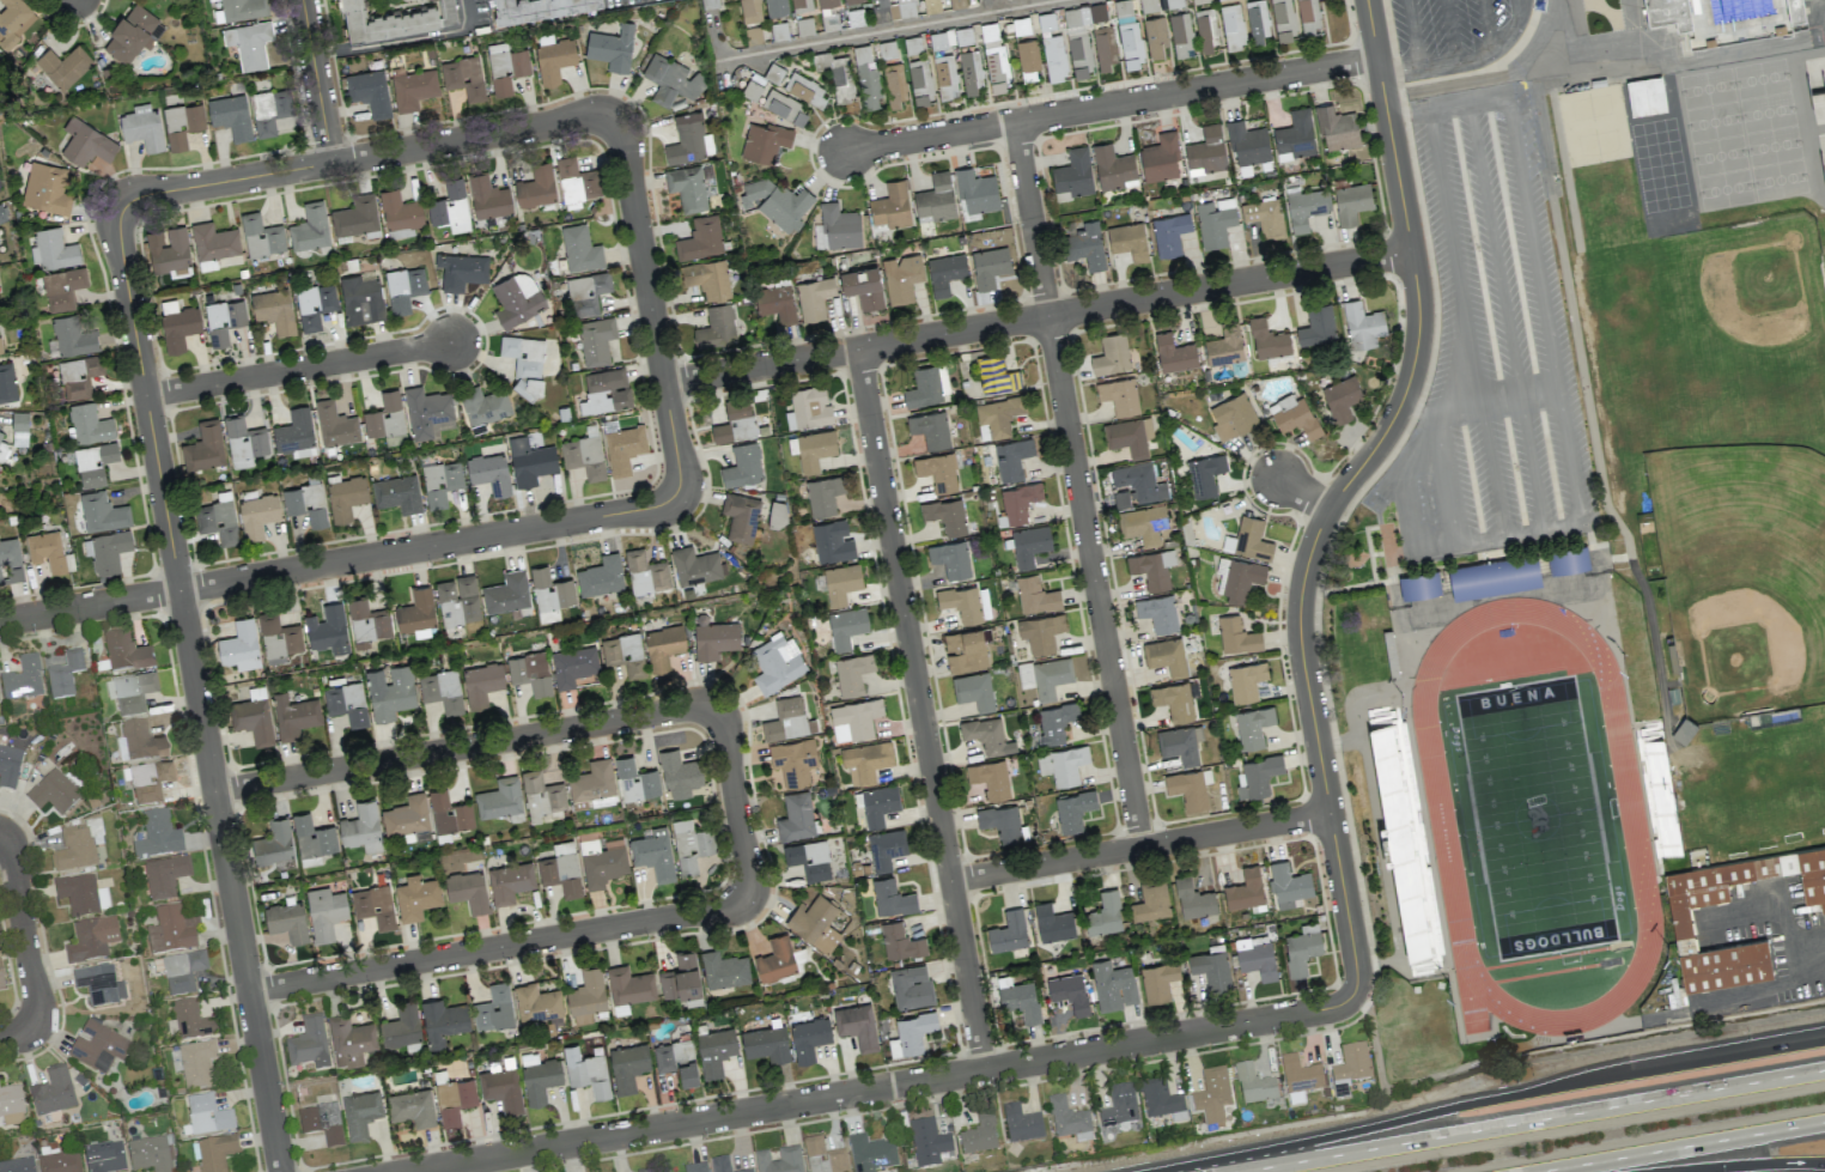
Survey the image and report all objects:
building: (850, 0)
building: (957, 2)
building: (801, 5)
road: (999, 5)
building: (931, 6)
road: (986, 6)
building: (536, 7)
building: (775, 7)
building: (243, 8)
building: (902, 8)
building: (750, 10)
building: (1794, 10)
building: (445, 12)
building: (1667, 12)
building: (1084, 13)
building: (1308, 17)
building: (14, 20)
building: (384, 20)
building: (1046, 20)
building: (1283, 20)
building: (1257, 22)
road: (1486, 24)
building: (1233, 25)
road: (889, 29)
building: (1205, 30)
road: (1450, 31)
building: (132, 34)
building: (1127, 34)
road: (1413, 34)
parking lot: (1453, 34)
building: (753, 35)
building: (1181, 35)
building: (1155, 36)
road: (403, 37)
building: (950, 37)
building: (249, 43)
building: (612, 47)
building: (1105, 47)
road: (716, 48)
building: (1054, 56)
building: (1079, 56)
building: (993, 57)
building: (1028, 59)
building: (553, 60)
road: (1466, 60)
building: (63, 66)
building: (505, 67)
building: (971, 69)
building: (835, 73)
building: (945, 75)
building: (463, 77)
building: (868, 78)
building: (670, 80)
road: (316, 81)
building: (920, 81)
building: (894, 84)
building: (412, 87)
building: (804, 89)
building: (369, 91)
building: (1644, 95)
road: (1466, 102)
road: (1111, 104)
building: (783, 107)
building: (269, 110)
road: (1407, 111)
building: (231, 115)
building: (182, 123)
building: (141, 126)
building: (1295, 135)
building: (688, 139)
building: (765, 141)
building: (85, 142)
building: (1247, 142)
building: (1206, 151)
road: (365, 157)
building: (1160, 158)
building: (1113, 166)
building: (1072, 175)
building: (576, 180)
building: (535, 186)
building: (687, 187)
building: (45, 188)
building: (977, 192)
building: (487, 196)
building: (936, 198)
building: (775, 201)
building: (1351, 202)
building: (892, 205)
building: (450, 206)
building: (1304, 206)
building: (399, 209)
building: (1, 214)
building: (355, 215)
building: (1265, 217)
building: (1215, 221)
building: (309, 227)
building: (837, 227)
building: (400, 232)
building: (1169, 233)
building: (261, 235)
building: (700, 238)
building: (1129, 241)
building: (213, 244)
building: (1085, 245)
building: (580, 248)
building: (53, 249)
building: (171, 250)
building: (988, 266)
building: (460, 272)
building: (944, 273)
building: (707, 278)
building: (901, 278)
building: (863, 286)
building: (62, 287)
building: (403, 287)
building: (586, 292)
building: (814, 297)
building: (516, 298)
building: (361, 299)
building: (775, 303)
building: (314, 304)
road: (649, 304)
road: (1543, 309)
building: (274, 310)
road: (1035, 315)
road: (1504, 315)
building: (223, 320)
park: (1713, 321)
road: (1466, 322)
building: (177, 324)
building: (1362, 324)
building: (1316, 326)
building: (716, 327)
building: (72, 336)
building: (1267, 339)
building: (596, 340)
building: (1224, 345)
building: (0, 352)
building: (1174, 353)
building: (1111, 354)
parking lot: (1491, 357)
building: (524, 363)
road: (1458, 363)
road: (298, 369)
building: (996, 374)
building: (77, 376)
building: (927, 385)
building: (607, 389)
building: (1119, 395)
road: (1499, 396)
building: (1340, 397)
building: (483, 403)
building: (810, 406)
road: (1422, 411)
building: (427, 412)
building: (384, 415)
building: (1294, 415)
building: (997, 417)
building: (1233, 417)
building: (735, 421)
building: (89, 424)
building: (335, 424)
building: (930, 429)
building: (0, 433)
building: (294, 433)
building: (1129, 436)
building: (243, 442)
building: (203, 447)
building: (623, 448)
building: (2, 449)
building: (814, 449)
building: (584, 456)
building: (1011, 457)
building: (530, 461)
building: (93, 462)
building: (742, 466)
building: (937, 470)
building: (489, 472)
building: (1204, 474)
road: (1444, 475)
building: (440, 481)
road: (1077, 484)
building: (1136, 485)
road: (1339, 490)
road: (1300, 491)
building: (397, 493)
building: (823, 494)
building: (345, 497)
building: (1018, 500)
building: (306, 503)
building: (102, 512)
building: (257, 515)
building: (945, 515)
building: (740, 516)
building: (218, 518)
building: (1142, 523)
road: (1409, 527)
road: (1541, 529)
building: (1252, 538)
building: (832, 541)
building: (1029, 544)
building: (47, 551)
building: (109, 551)
building: (950, 558)
building: (11, 559)
building: (1568, 559)
road: (337, 561)
building: (694, 565)
building: (1152, 567)
park: (1741, 571)
building: (645, 573)
building: (601, 576)
building: (1494, 576)
building: (0, 578)
building: (1237, 578)
building: (841, 582)
building: (1418, 584)
building: (506, 591)
building: (549, 594)
building: (1035, 595)
building: (457, 600)
building: (961, 602)
building: (416, 611)
building: (1158, 612)
building: (367, 621)
building: (846, 626)
building: (327, 628)
building: (1040, 632)
building: (1236, 634)
building: (278, 637)
building: (714, 639)
building: (239, 645)
building: (663, 646)
building: (965, 649)
building: (124, 650)
building: (623, 654)
building: (1166, 656)
building: (777, 662)
building: (572, 666)
building: (530, 672)
building: (852, 673)
building: (63, 674)
building: (1045, 675)
building: (22, 679)
building: (1246, 680)
building: (481, 684)
building: (442, 690)
building: (130, 691)
road: (195, 691)
building: (389, 691)
building: (974, 691)
building: (1174, 700)
building: (346, 703)
road: (920, 708)
building: (294, 716)
building: (253, 717)
building: (853, 718)
building: (787, 721)
building: (1056, 721)
building: (1252, 725)
building: (987, 735)
building: (141, 740)
building: (1178, 745)
road: (464, 747)
building: (793, 760)
building: (865, 760)
building: (1061, 764)
building: (8, 766)
building: (679, 770)
building: (1258, 776)
building: (991, 778)
building: (635, 779)
building: (150, 781)
building: (592, 781)
building: (1391, 781)
building: (1187, 788)
building: (56, 790)
building: (499, 797)
road: (732, 801)
building: (876, 803)
road: (1629, 803)
track: (1629, 803)
building: (1073, 809)
building: (449, 812)
building: (406, 815)
park: (1535, 818)
building: (1000, 821)
building: (361, 827)
building: (157, 836)
building: (312, 836)
building: (273, 843)
building: (691, 844)
building: (78, 846)
building: (886, 848)
road: (1139, 848)
building: (653, 854)
building: (809, 858)
building: (601, 864)
building: (560, 869)
building: (164, 876)
building: (509, 882)
building: (1288, 885)
building: (1245, 889)
building: (467, 891)
building: (81, 894)
building: (415, 897)
building: (890, 897)
building: (1193, 899)
building: (1151, 900)
building: (375, 905)
building: (324, 911)
building: (1103, 915)
road: (1738, 918)
building: (286, 921)
building: (1417, 922)
building: (815, 923)
building: (1052, 923)
building: (1681, 924)
road: (23, 928)
road: (1790, 928)
building: (172, 929)
building: (1008, 931)
building: (91, 939)
building: (899, 941)
road: (499, 946)
building: (1302, 948)
building: (1255, 957)
building: (775, 959)
building: (724, 968)
building: (1211, 968)
building: (182, 971)
building: (680, 976)
building: (1, 978)
building: (1157, 980)
building: (99, 984)
building: (629, 984)
road: (1770, 984)
building: (910, 985)
building: (1113, 985)
building: (1069, 992)
building: (586, 995)
building: (1675, 996)
building: (1021, 1000)
building: (536, 1003)
building: (494, 1008)
building: (190, 1020)
building: (443, 1021)
building: (401, 1025)
building: (857, 1025)
road: (17, 1032)
building: (911, 1033)
building: (808, 1038)
building: (349, 1040)
building: (766, 1043)
building: (308, 1044)
road: (1753, 1045)
building: (97, 1046)
building: (714, 1050)
building: (676, 1059)
building: (196, 1063)
building: (627, 1067)
building: (1350, 1068)
building: (586, 1071)
building: (1300, 1075)
building: (539, 1077)
building: (1253, 1085)
road: (887, 1086)
building: (501, 1088)
building: (51, 1091)
building: (1211, 1095)
road: (1503, 1097)
building: (1295, 1098)
building: (454, 1099)
building: (1160, 1100)
building: (11, 1105)
building: (1119, 1106)
building: (412, 1107)
building: (360, 1113)
building: (207, 1115)
building: (1067, 1119)
road: (1529, 1122)
building: (322, 1123)
building: (1021, 1123)
building: (977, 1138)
building: (927, 1142)
road: (1680, 1146)
building: (215, 1152)
building: (870, 1153)
building: (148, 1154)
building: (104, 1156)
building: (823, 1156)
building: (779, 1160)
building: (60, 1161)
building: (720, 1164)
building: (17, 1165)
road: (1757, 1166)
building: (695, 1167)
building: (647, 1170)
building: (747, 1171)

